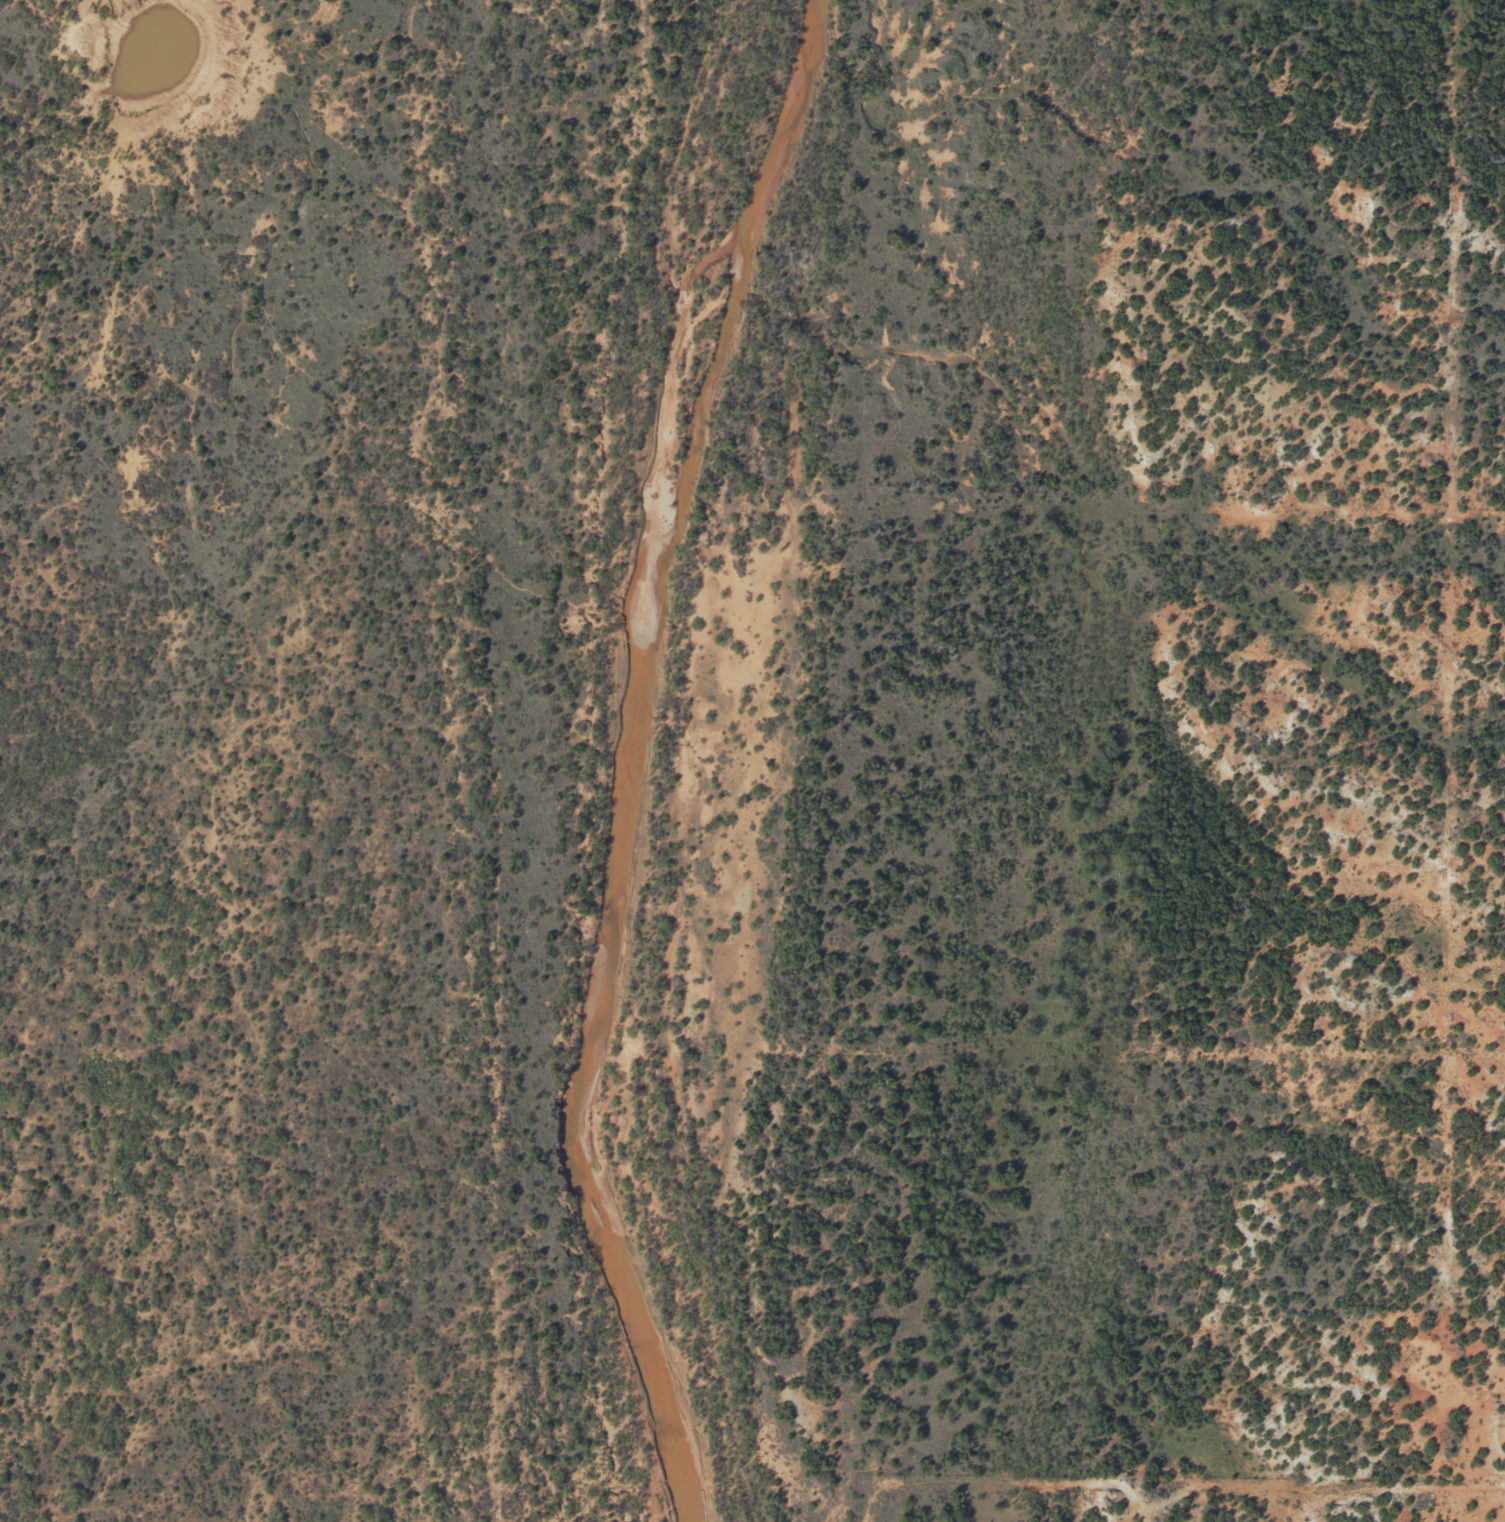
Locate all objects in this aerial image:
river: (629, 758)

